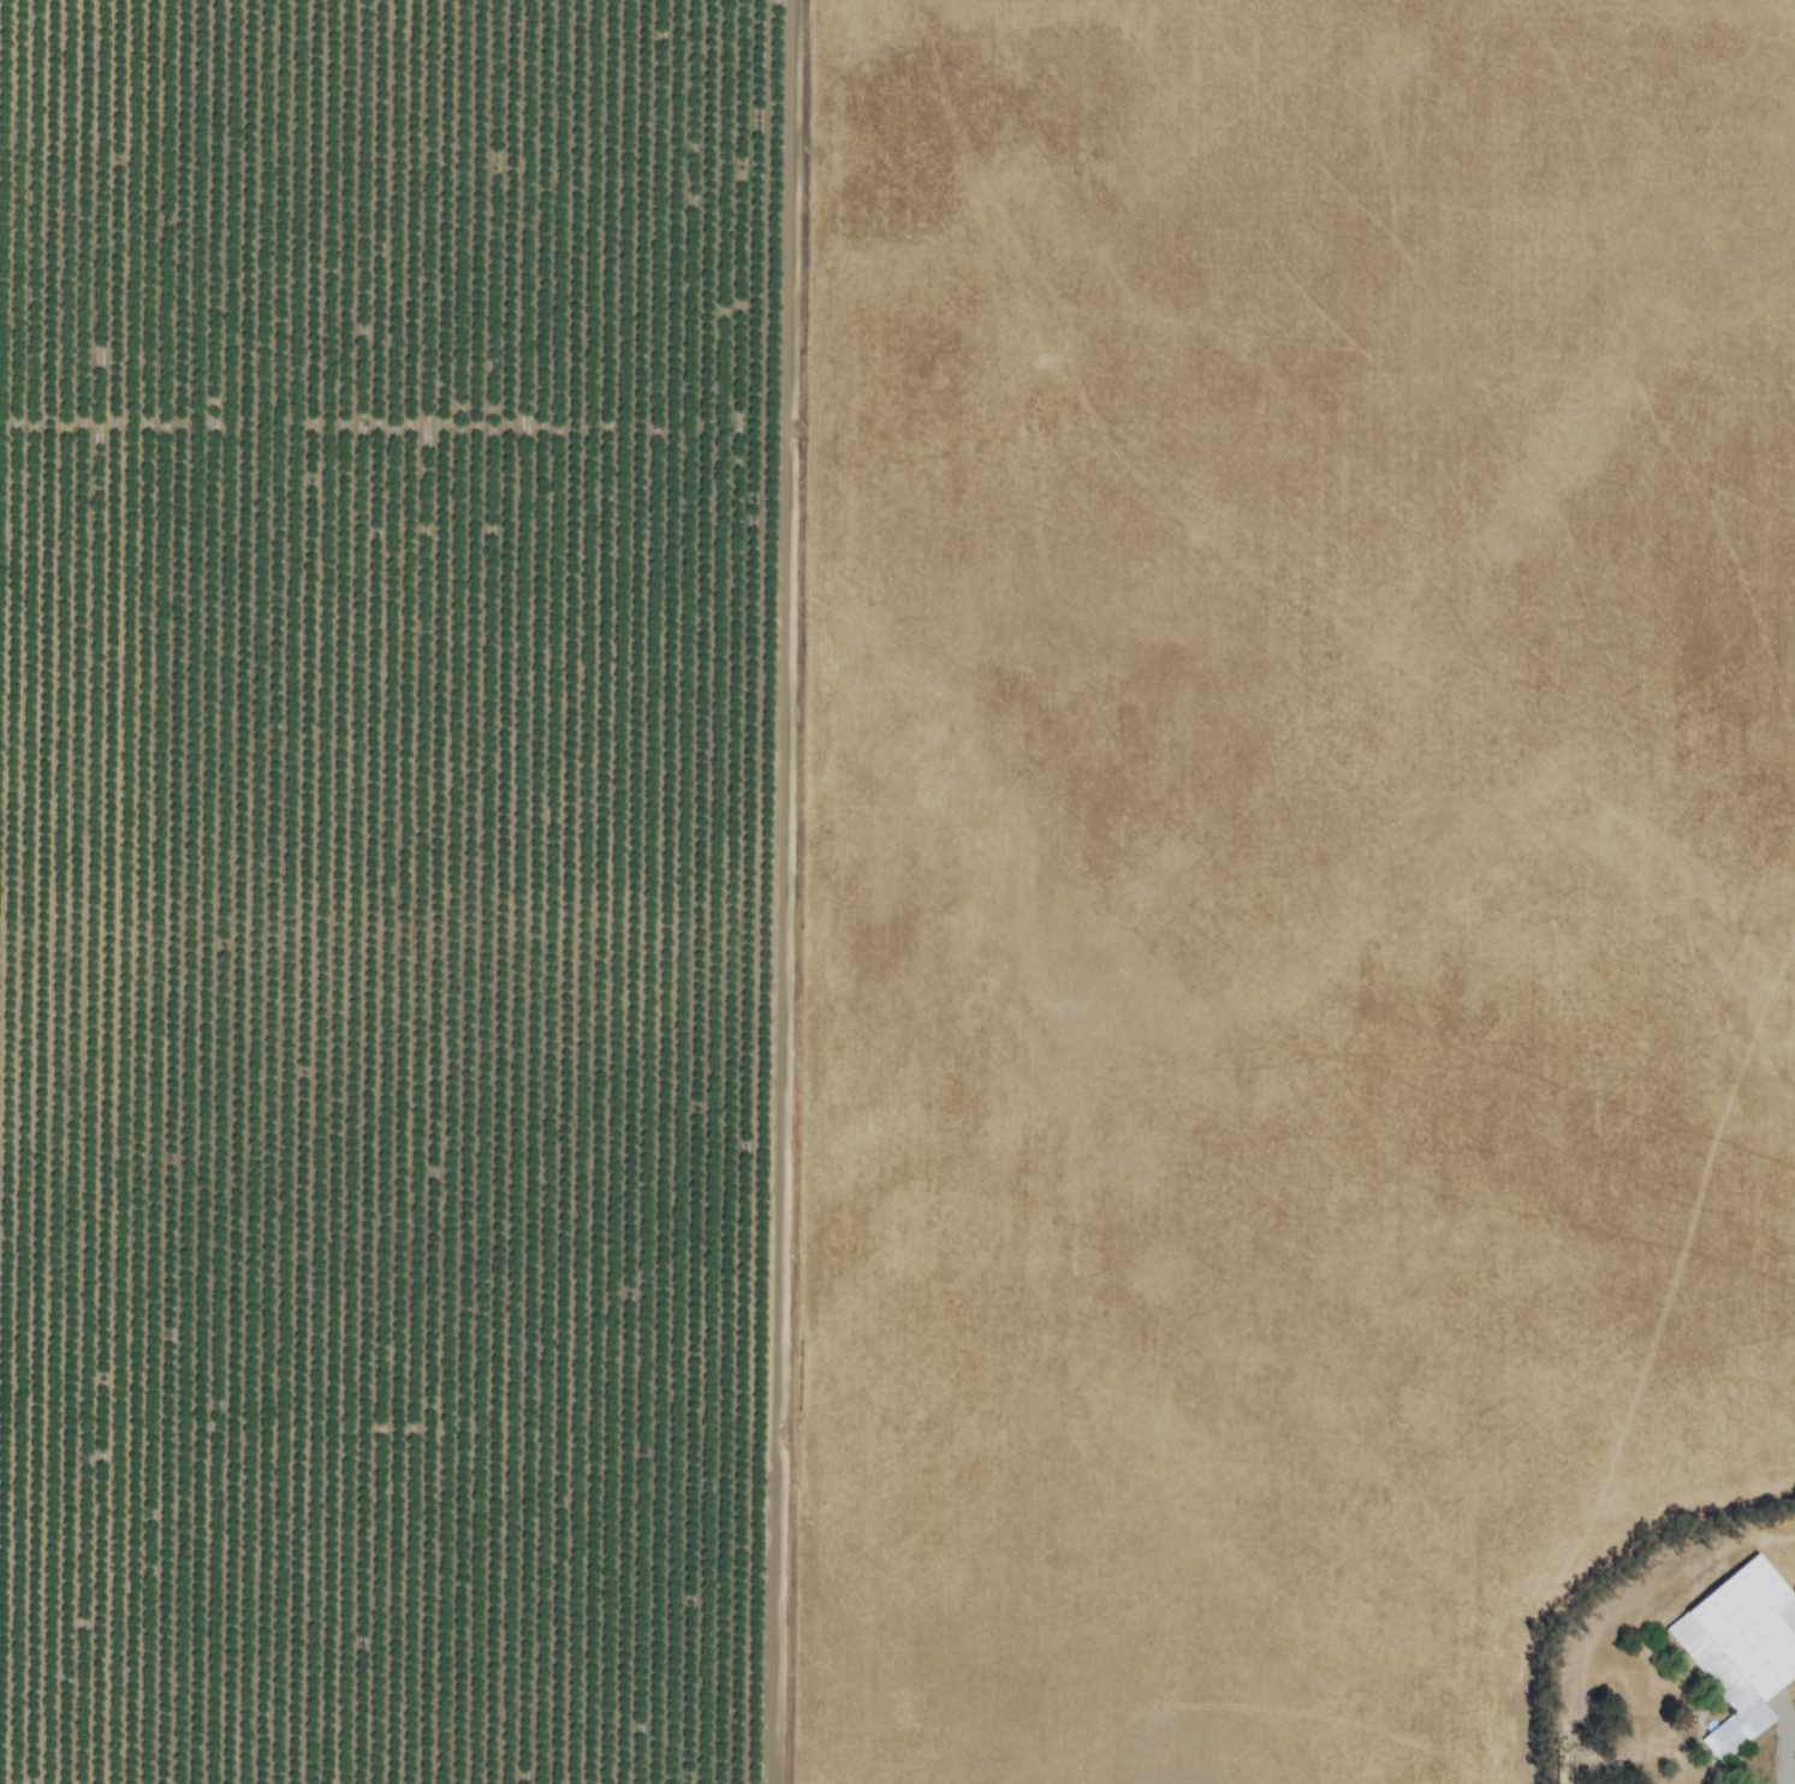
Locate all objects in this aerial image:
building: (1788, 1616)
building: (1752, 1628)
building: (1722, 1688)

